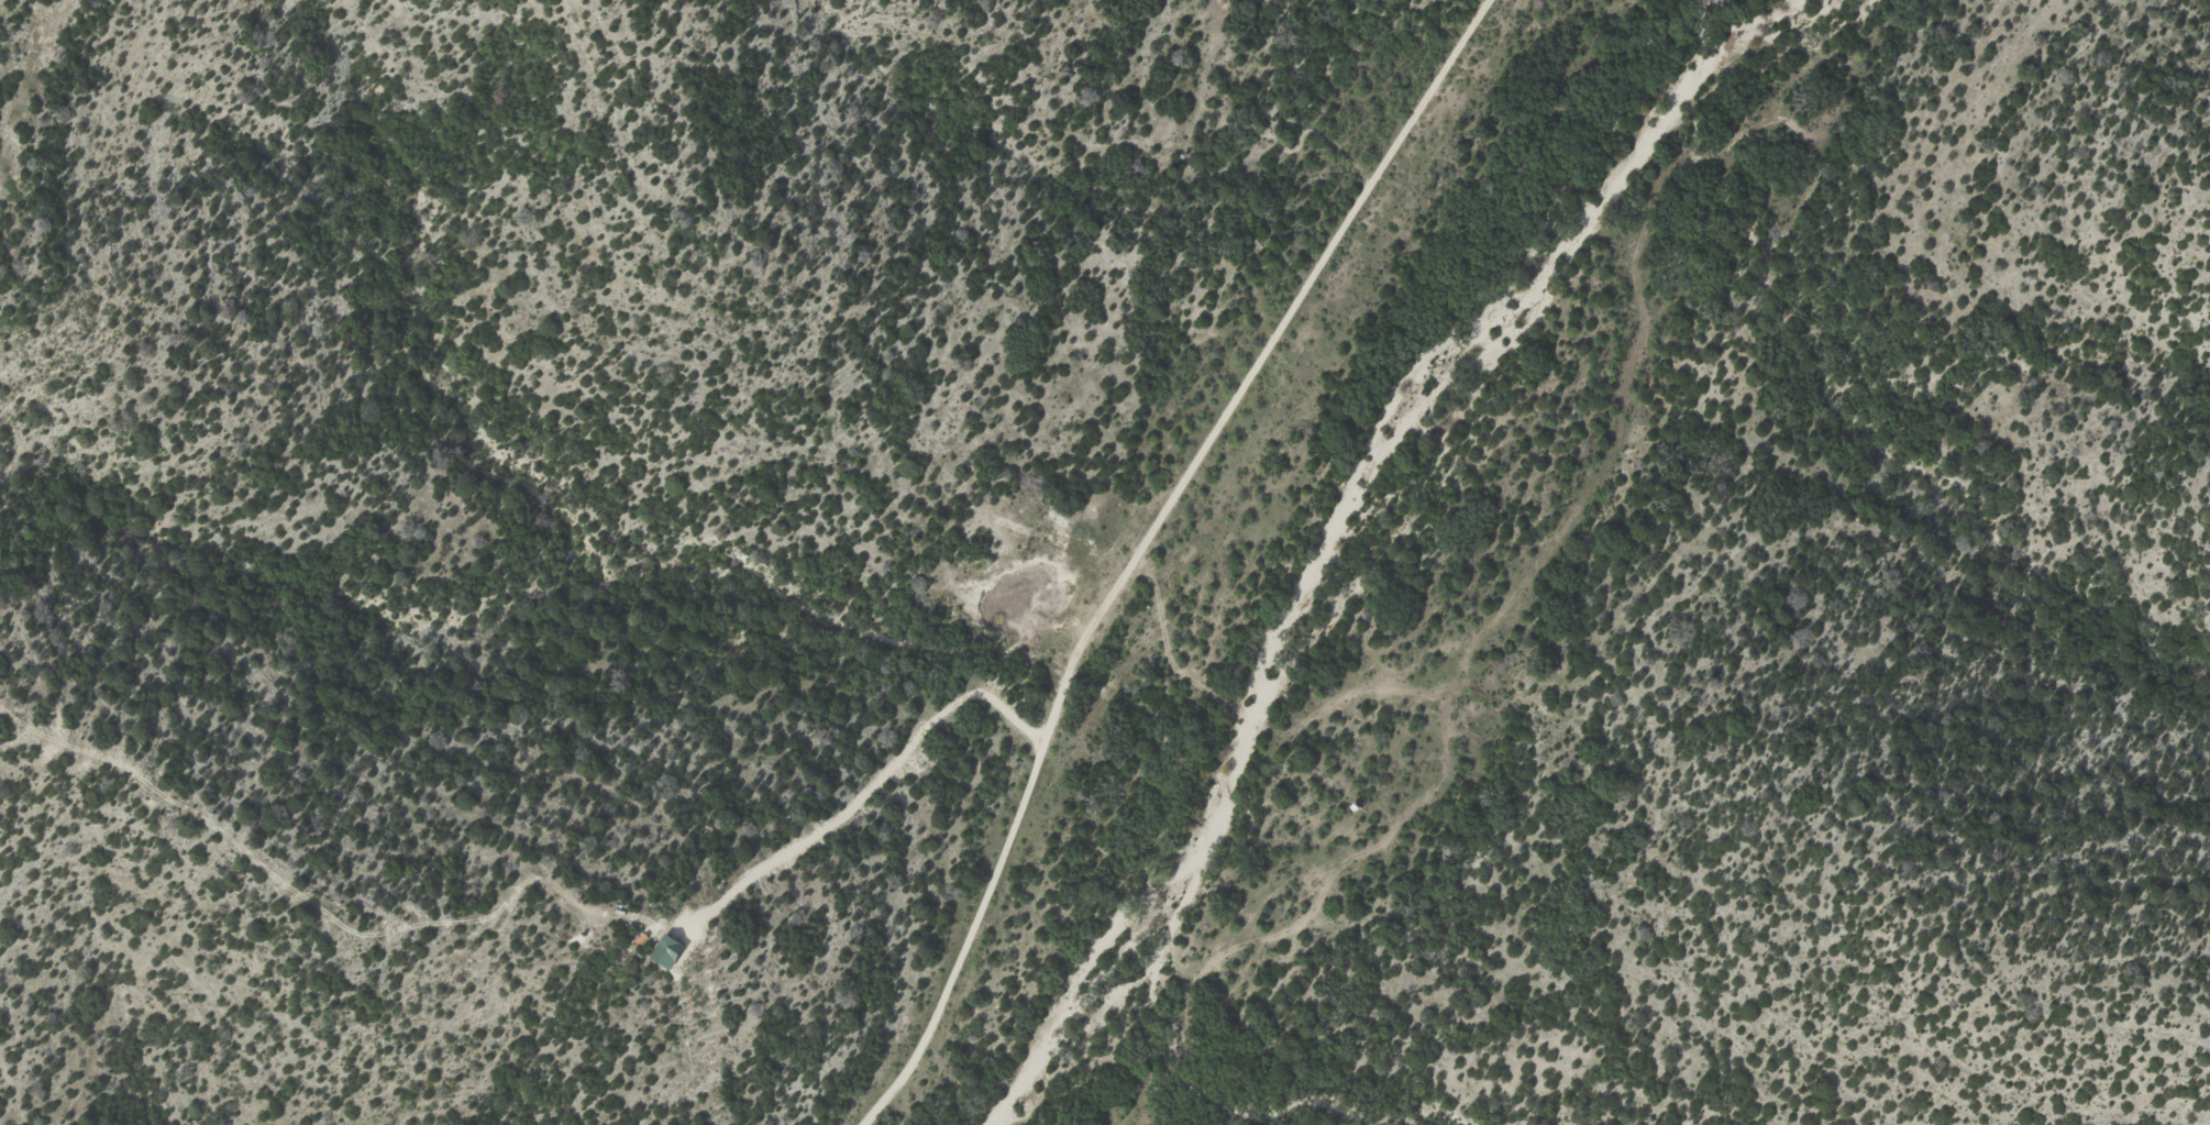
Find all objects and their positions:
road: (1141, 544)

